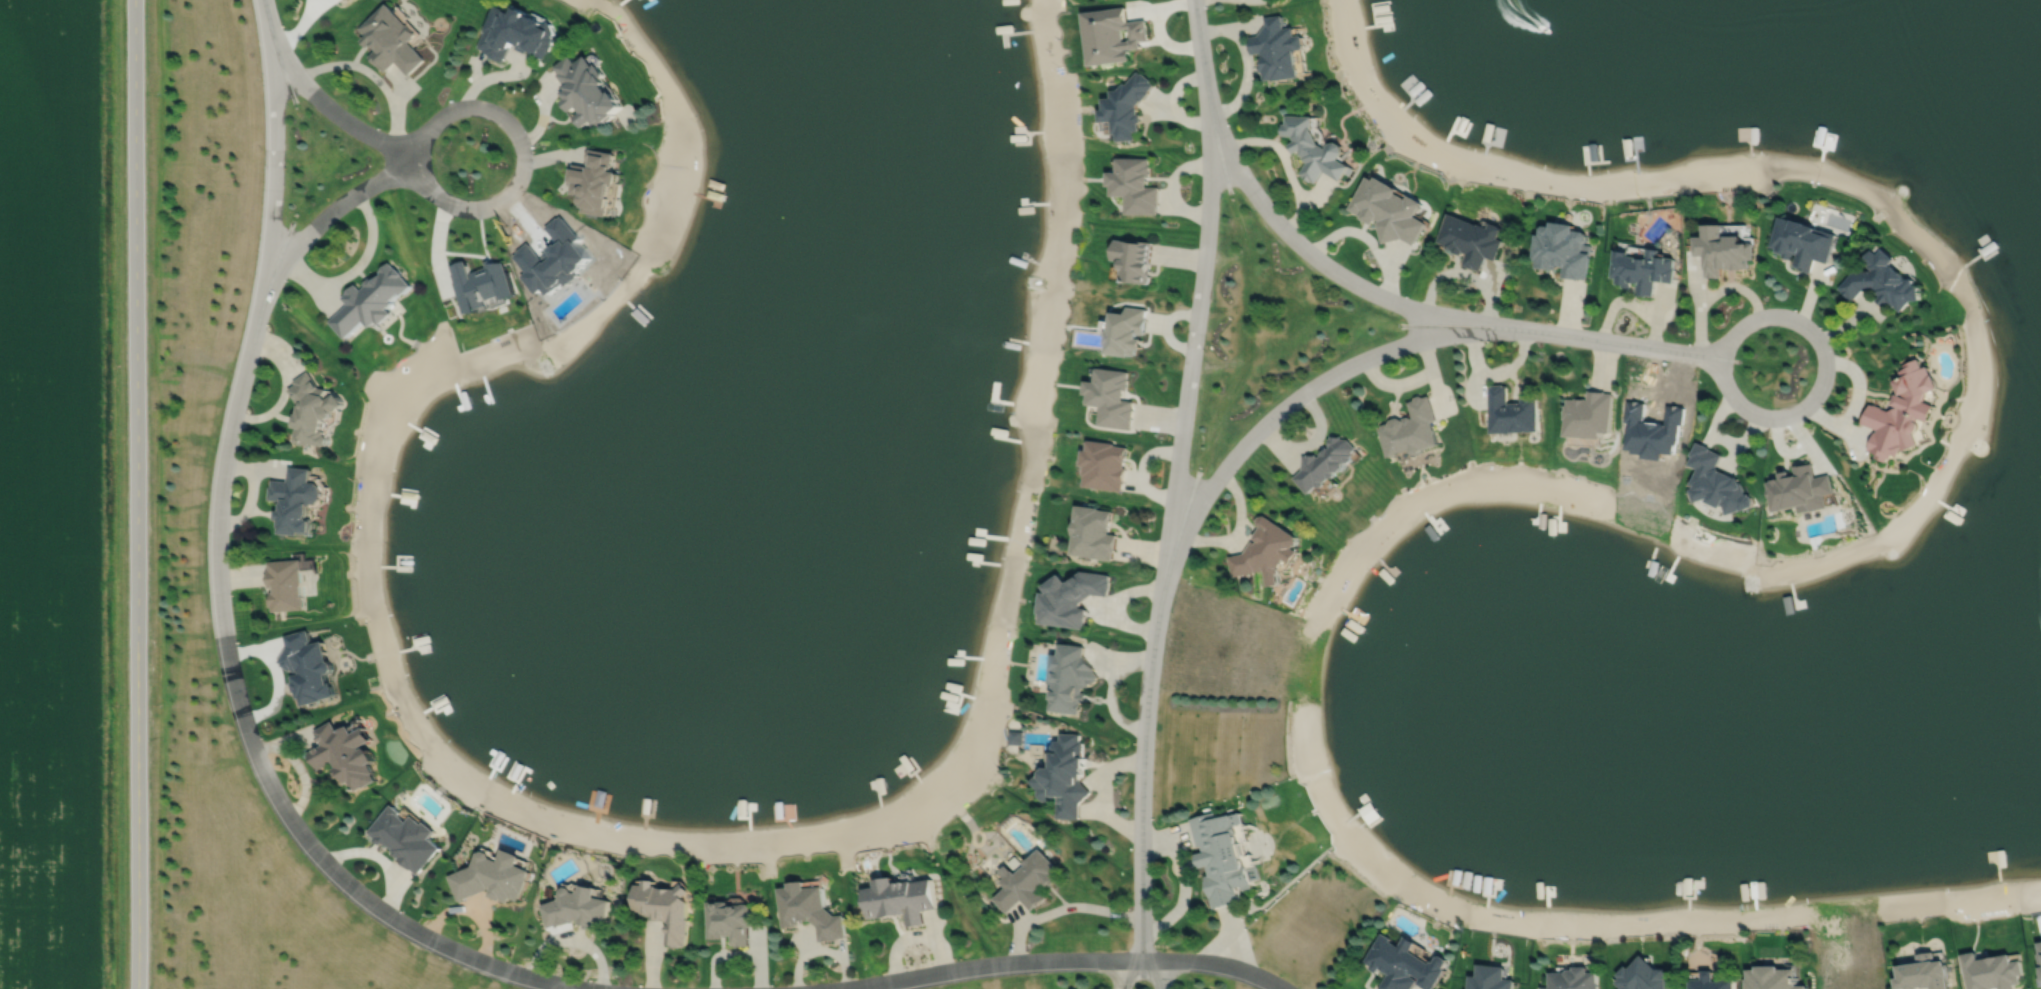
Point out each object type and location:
road: (297, 27)
building: (517, 33)
building: (1113, 34)
building: (391, 40)
building: (1276, 48)
road: (1200, 61)
road: (372, 74)
building: (588, 93)
building: (1127, 104)
road: (335, 113)
building: (1315, 146)
road: (522, 156)
building: (596, 182)
building: (1135, 184)
building: (1389, 209)
road: (331, 211)
building: (1471, 239)
building: (1803, 241)
building: (1563, 249)
building: (1722, 249)
building: (1134, 258)
road: (355, 267)
building: (1642, 269)
road: (1332, 270)
building: (1883, 280)
building: (483, 284)
building: (372, 299)
building: (1128, 330)
road: (1619, 342)
road: (1823, 377)
road: (1304, 392)
building: (1112, 396)
building: (986, 408)
building: (316, 410)
building: (1513, 412)
building: (1903, 412)
building: (1590, 414)
building: (1411, 430)
road: (229, 431)
building: (1325, 463)
building: (1105, 464)
building: (1717, 482)
building: (1801, 490)
crop: (49, 494)
road: (135, 494)
building: (298, 499)
building: (1094, 533)
road: (1167, 540)
building: (1265, 552)
building: (287, 584)
building: (1072, 598)
building: (309, 668)
building: (1072, 679)
building: (1016, 735)
building: (345, 750)
building: (1066, 773)
building: (1372, 814)
building: (405, 836)
building: (1221, 854)
building: (493, 874)
building: (1028, 880)
road: (1184, 886)
building: (900, 896)
building: (577, 905)
building: (667, 905)
building: (809, 908)
building: (731, 919)
road: (429, 938)
building: (1404, 963)
road: (1214, 964)
road: (996, 965)
building: (1992, 970)
building: (1926, 972)
road: (1128, 973)
road: (1152, 973)
building: (1643, 975)
building: (1491, 977)
building: (1772, 977)
building: (1574, 978)
building: (1709, 980)

